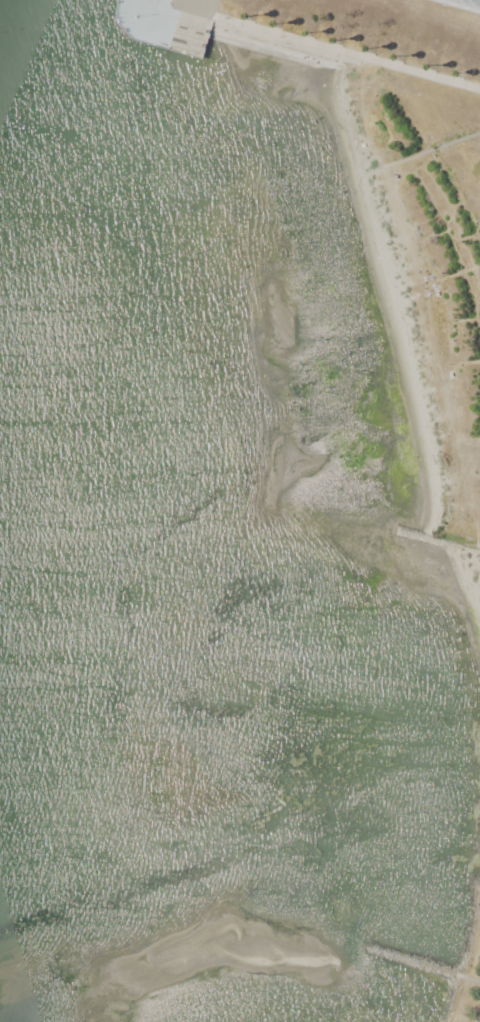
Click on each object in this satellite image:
road: (472, 2)
road: (157, 7)
road: (161, 18)
flagpole: (135, 19)
road: (347, 57)
road: (454, 143)
park: (393, 196)
road: (449, 544)
park: (478, 846)
park: (450, 968)

